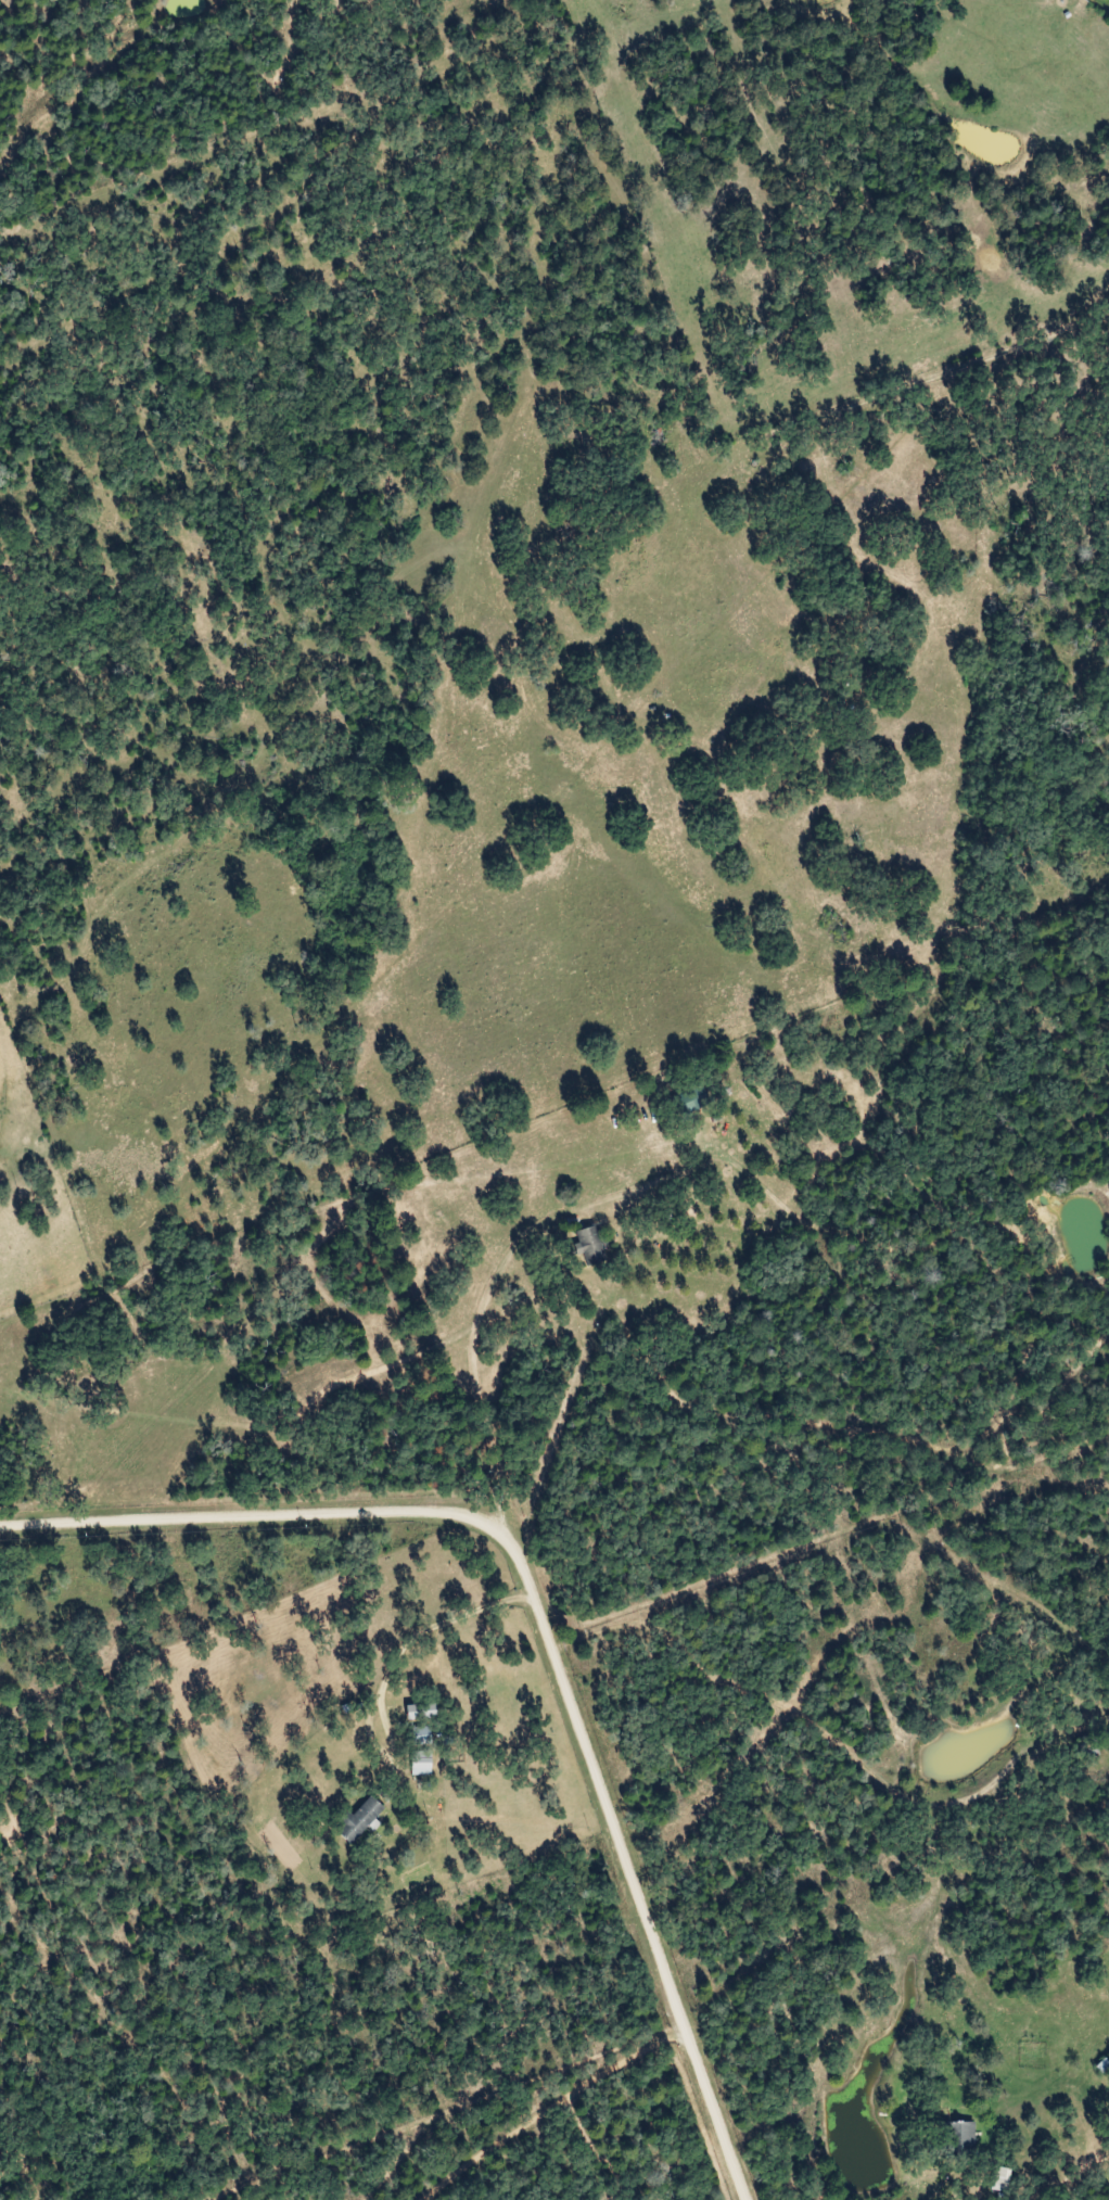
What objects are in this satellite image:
building: (684, 1101)
building: (607, 1229)
building: (582, 1246)
building: (412, 1735)
building: (412, 1766)
building: (350, 1819)
building: (1096, 2065)
building: (952, 2137)
building: (994, 2178)

